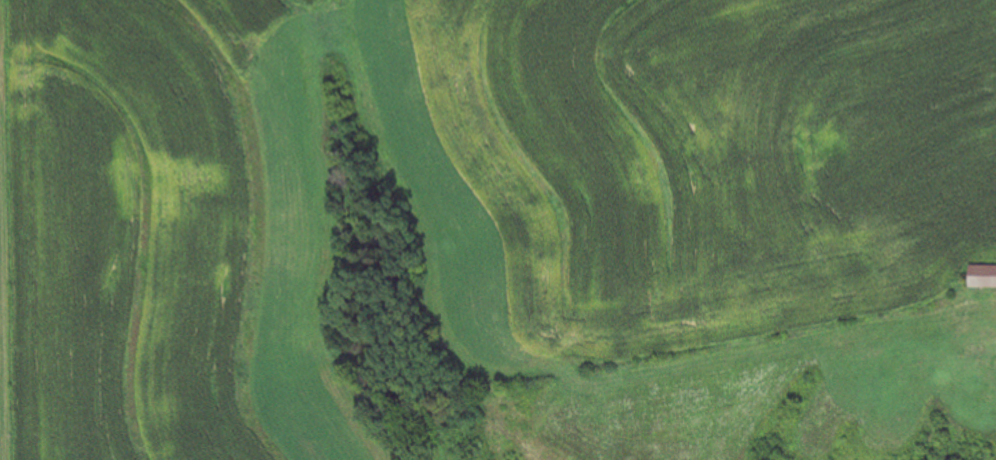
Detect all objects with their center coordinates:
building: (981, 279)

